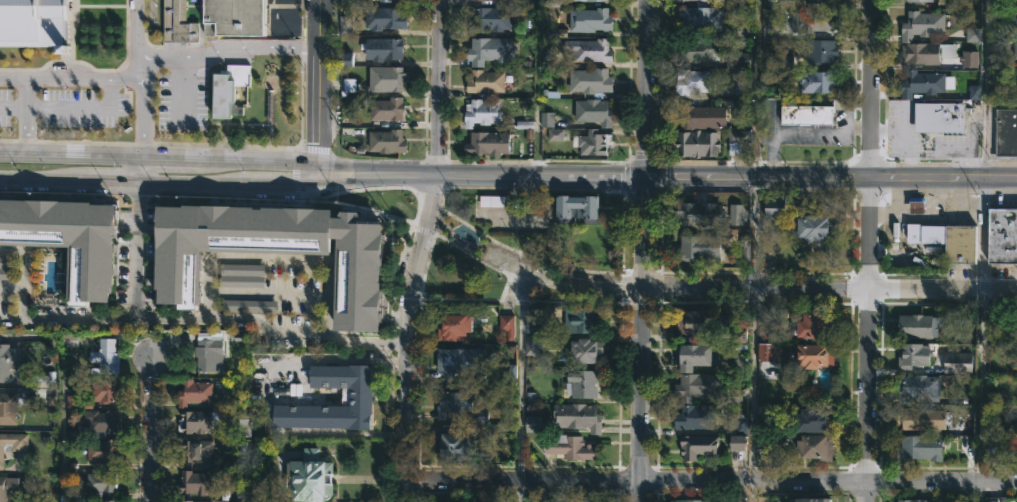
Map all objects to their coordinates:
building: (485, 0)
building: (695, 0)
building: (384, 1)
building: (589, 1)
building: (812, 1)
building: (919, 1)
building: (233, 18)
building: (700, 18)
building: (382, 19)
building: (489, 20)
building: (589, 20)
building: (35, 21)
building: (178, 23)
building: (803, 24)
building: (921, 26)
building: (972, 35)
building: (381, 49)
building: (1015, 49)
building: (489, 50)
building: (818, 50)
building: (587, 51)
building: (697, 51)
building: (926, 53)
road: (200, 58)
building: (969, 59)
building: (737, 60)
building: (383, 79)
road: (71, 80)
building: (485, 80)
building: (817, 80)
building: (589, 81)
building: (691, 81)
building: (924, 85)
building: (742, 86)
road: (319, 89)
building: (227, 90)
road: (757, 90)
road: (984, 90)
road: (182, 91)
building: (974, 92)
parking lot: (62, 96)
road: (847, 105)
road: (69, 106)
road: (143, 109)
building: (387, 109)
building: (480, 112)
building: (592, 112)
building: (693, 115)
building: (807, 115)
road: (27, 118)
building: (940, 118)
building: (547, 119)
building: (555, 134)
road: (800, 135)
building: (1006, 135)
building: (385, 137)
building: (739, 141)
building: (487, 142)
building: (696, 142)
building: (590, 143)
road: (160, 161)
road: (141, 172)
road: (440, 179)
road: (605, 179)
traffic signals: (646, 179)
road: (686, 179)
road: (871, 181)
road: (158, 184)
building: (575, 207)
building: (774, 207)
building: (916, 207)
road: (139, 208)
building: (699, 213)
building: (736, 214)
building: (813, 225)
building: (1002, 234)
road: (982, 236)
building: (947, 239)
building: (72, 242)
road: (474, 246)
road: (12, 247)
building: (698, 247)
road: (421, 250)
road: (870, 250)
road: (646, 251)
road: (328, 266)
road: (138, 274)
building: (363, 277)
road: (268, 290)
road: (765, 291)
road: (207, 313)
road: (237, 315)
road: (11, 317)
road: (48, 317)
building: (580, 319)
building: (536, 320)
building: (698, 322)
building: (507, 324)
building: (453, 326)
building: (918, 326)
building: (813, 327)
road: (295, 330)
building: (741, 336)
road: (390, 341)
building: (533, 343)
building: (206, 349)
building: (584, 349)
building: (768, 351)
building: (815, 354)
building: (694, 355)
building: (104, 356)
building: (912, 356)
building: (7, 359)
building: (459, 361)
building: (957, 362)
road: (520, 375)
building: (583, 383)
building: (255, 384)
building: (697, 386)
building: (919, 388)
building: (103, 390)
building: (193, 392)
building: (359, 396)
road: (752, 396)
road: (981, 397)
building: (452, 402)
building: (9, 406)
building: (577, 416)
building: (696, 416)
building: (814, 419)
building: (921, 419)
building: (197, 421)
building: (98, 422)
building: (243, 423)
building: (738, 423)
building: (532, 424)
road: (59, 426)
road: (153, 430)
building: (738, 442)
building: (12, 443)
building: (451, 444)
building: (698, 445)
building: (816, 446)
building: (568, 447)
building: (919, 447)
building: (99, 449)
building: (194, 450)
building: (308, 477)
building: (98, 481)
road: (709, 481)
building: (200, 484)
building: (8, 488)
road: (518, 491)
building: (251, 496)
building: (808, 498)
building: (565, 500)
building: (587, 500)
building: (693, 500)
building: (910, 500)
building: (108, 501)
building: (191, 501)
building: (530, 501)

